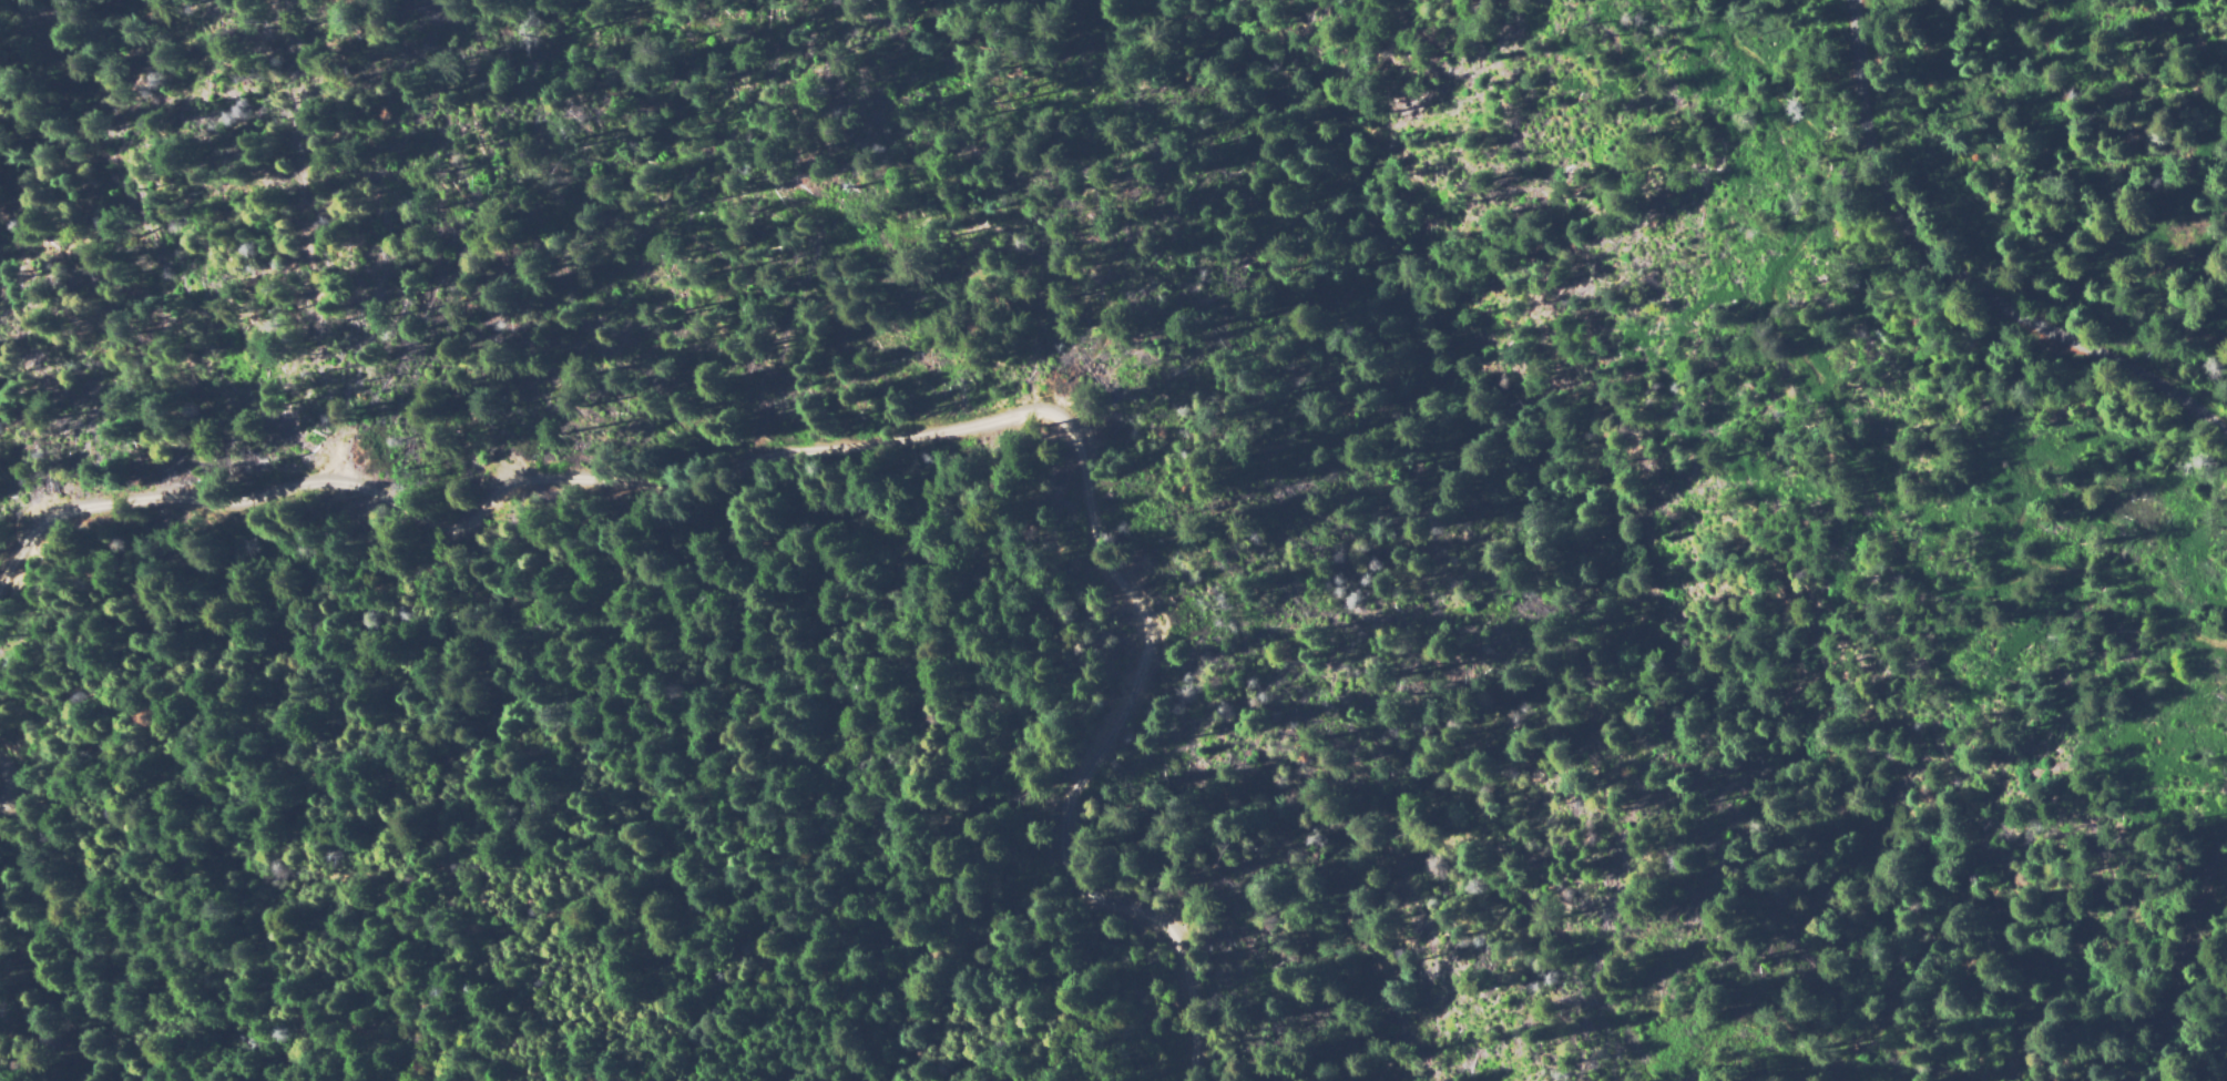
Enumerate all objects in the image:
road: (1968, 268)

